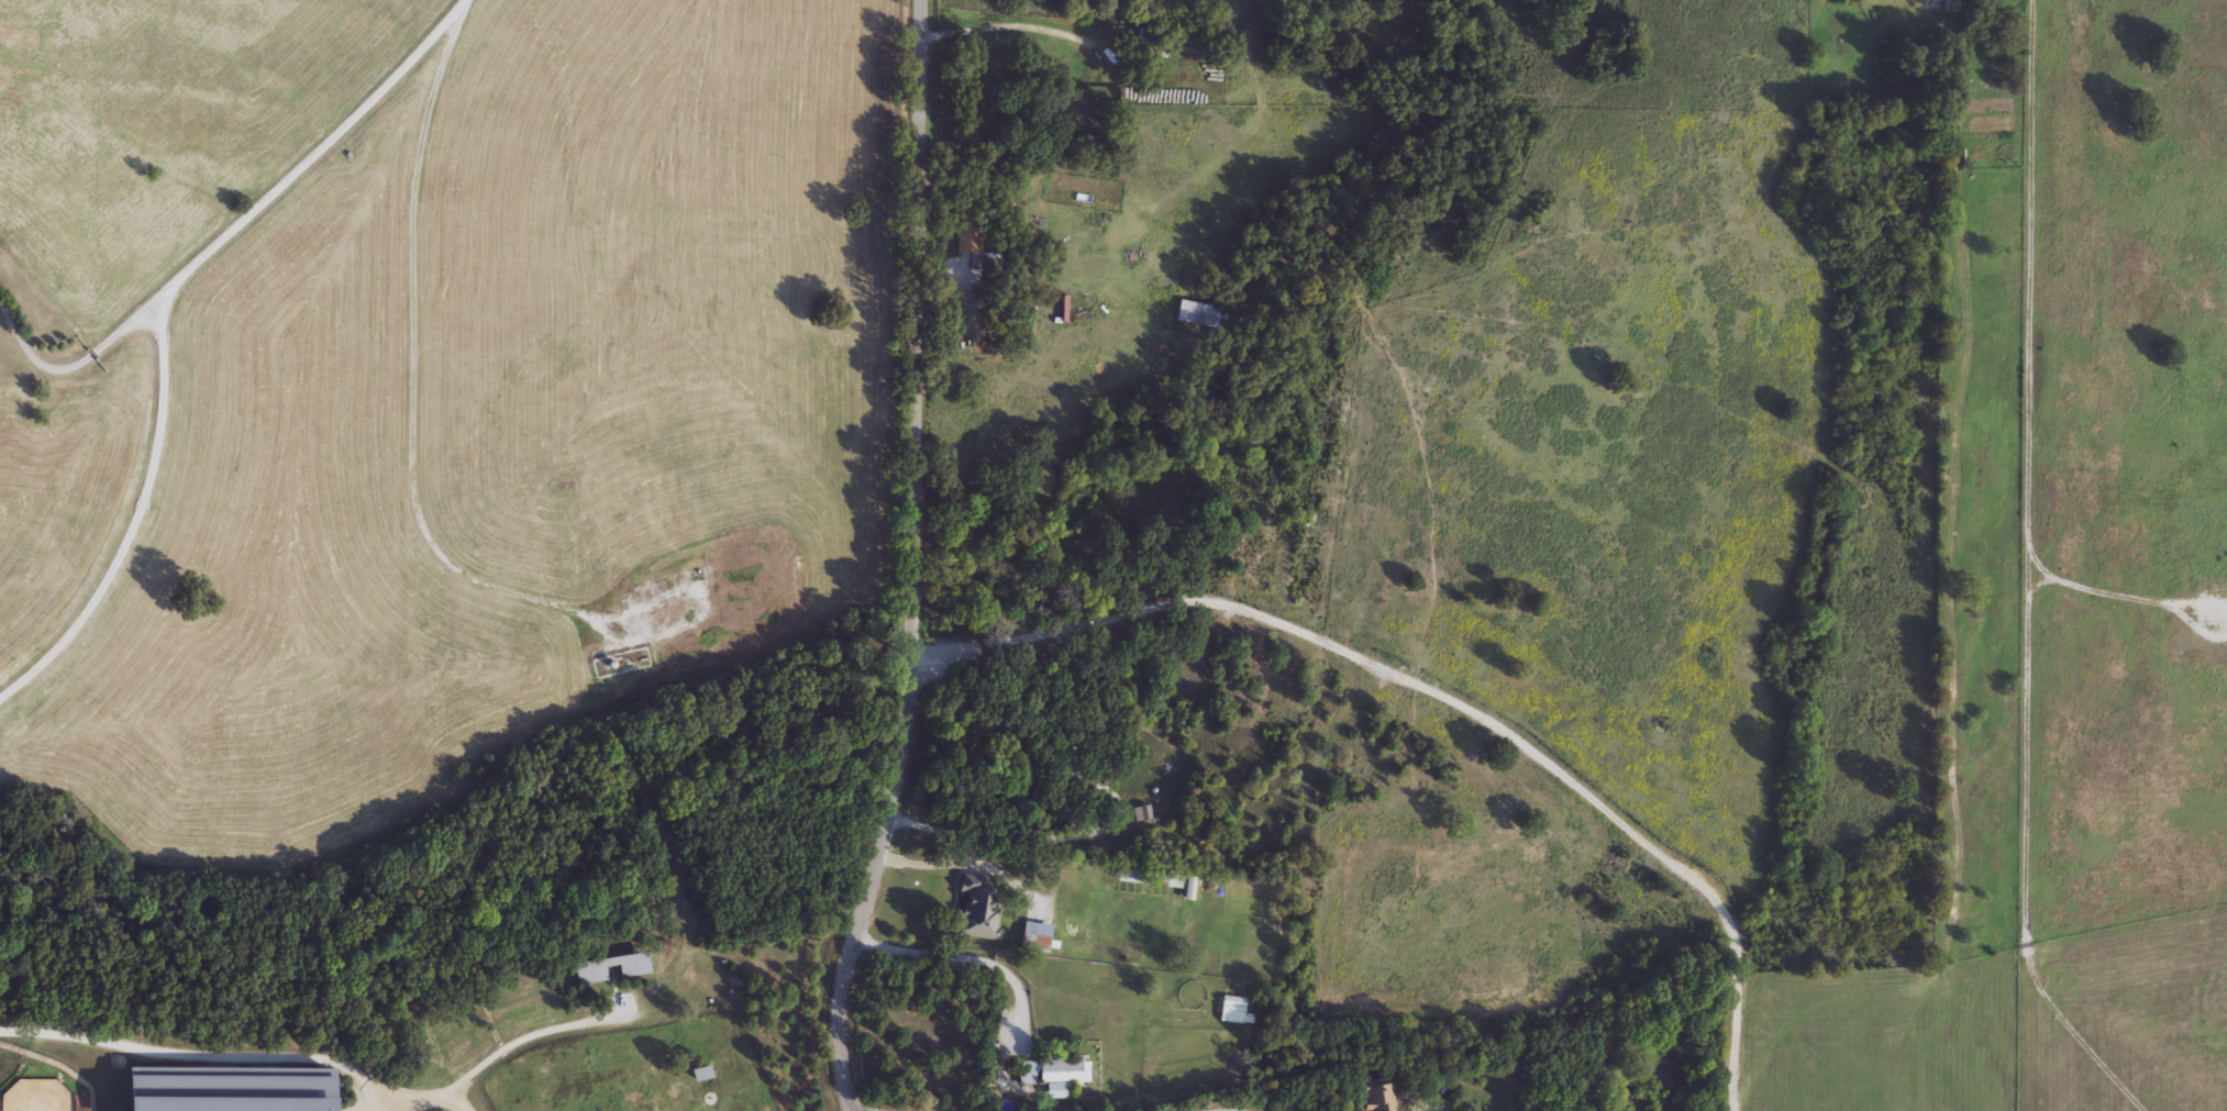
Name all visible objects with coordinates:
road: (1019, 20)
building: (1151, 43)
road: (917, 135)
road: (237, 226)
building: (1196, 314)
road: (126, 514)
road: (2028, 577)
road: (908, 696)
road: (1443, 696)
building: (1071, 762)
building: (1141, 814)
road: (1048, 832)
road: (935, 864)
building: (978, 910)
building: (1034, 937)
road: (967, 953)
building: (589, 971)
building: (1232, 1003)
park: (919, 1032)
road: (529, 1034)
road: (250, 1058)
building: (1053, 1074)
building: (701, 1075)
building: (1377, 1096)
road: (370, 1109)

